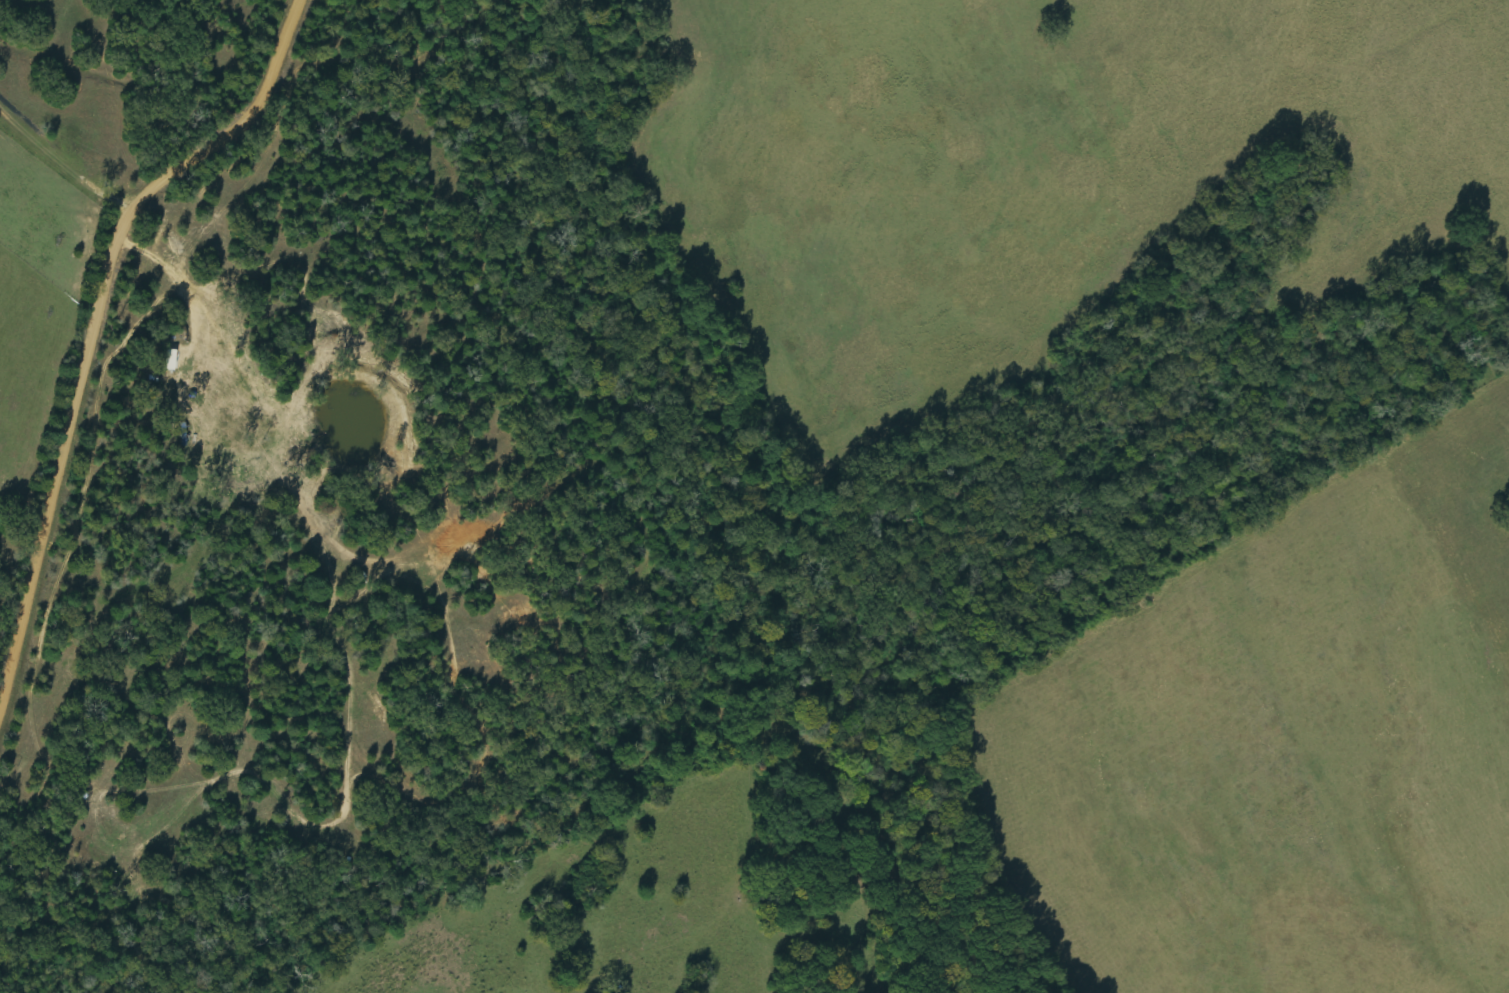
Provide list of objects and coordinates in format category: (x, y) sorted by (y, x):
road: (94, 313)
building: (175, 360)

